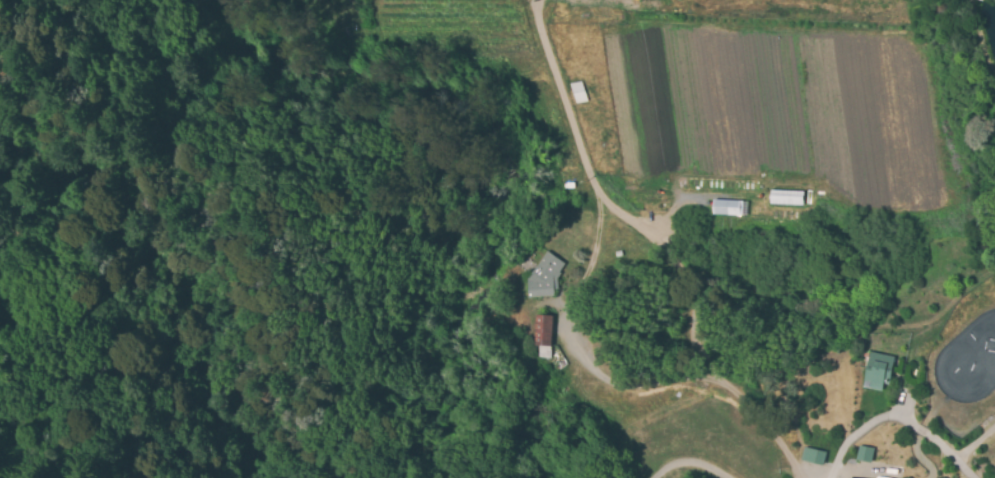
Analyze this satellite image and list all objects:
crop: (666, 83)
crop: (867, 91)
building: (578, 92)
building: (729, 207)
building: (542, 276)
building: (541, 335)
building: (877, 371)
road: (900, 422)
building: (864, 454)
building: (812, 456)
road: (688, 464)

